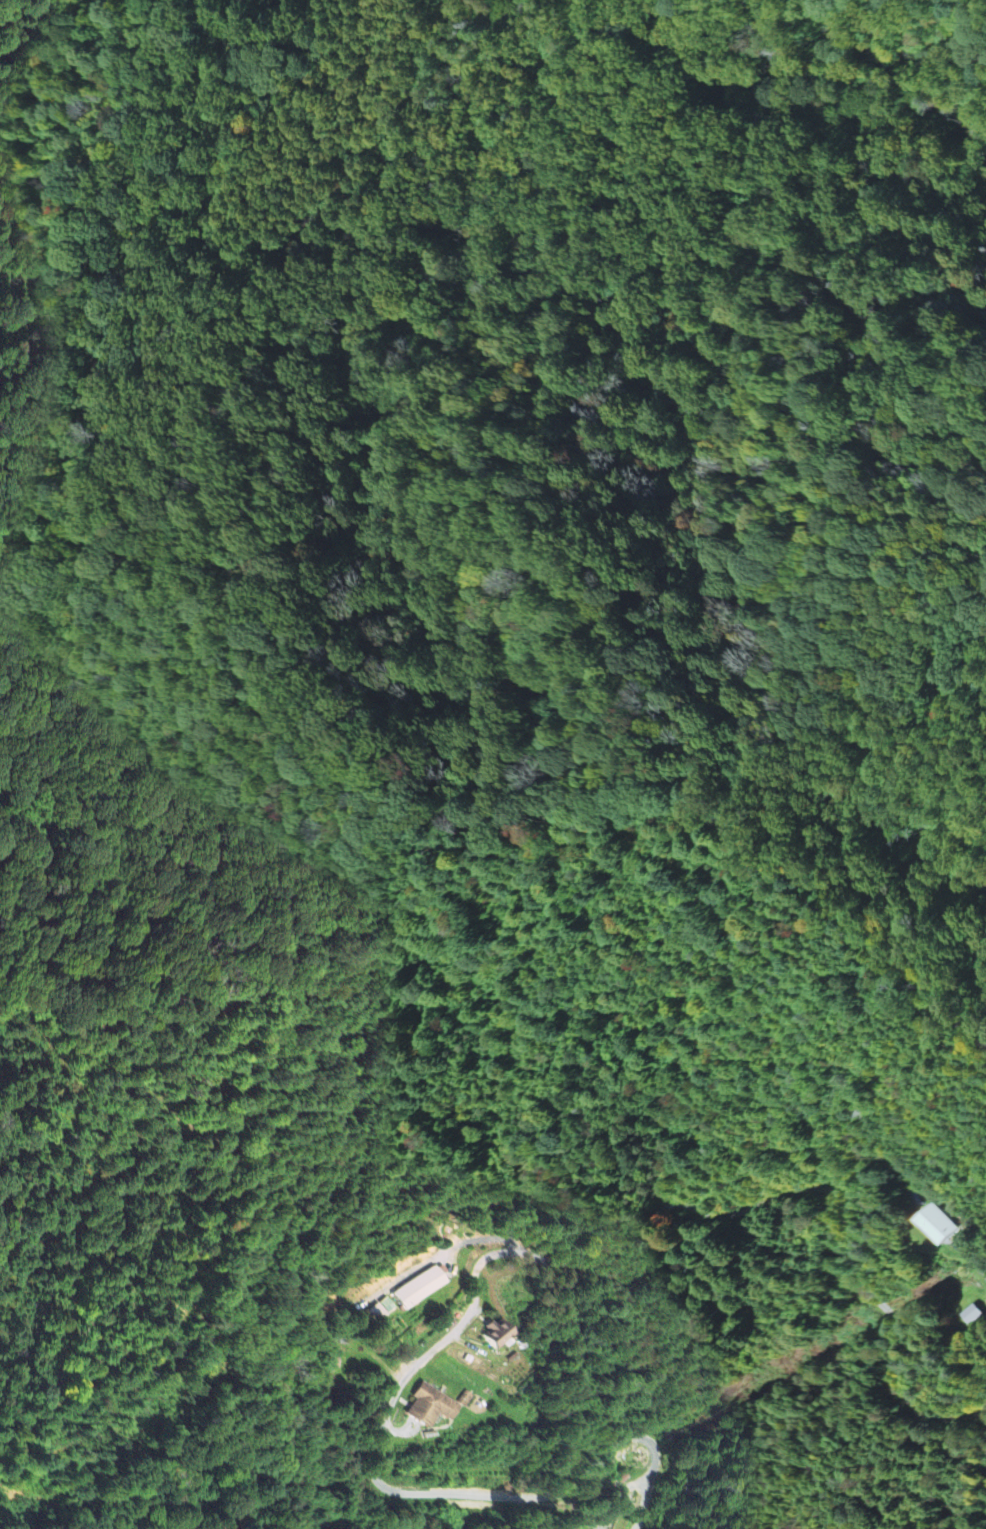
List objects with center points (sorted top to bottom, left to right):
road: (520, 1250)
road: (983, 1405)

